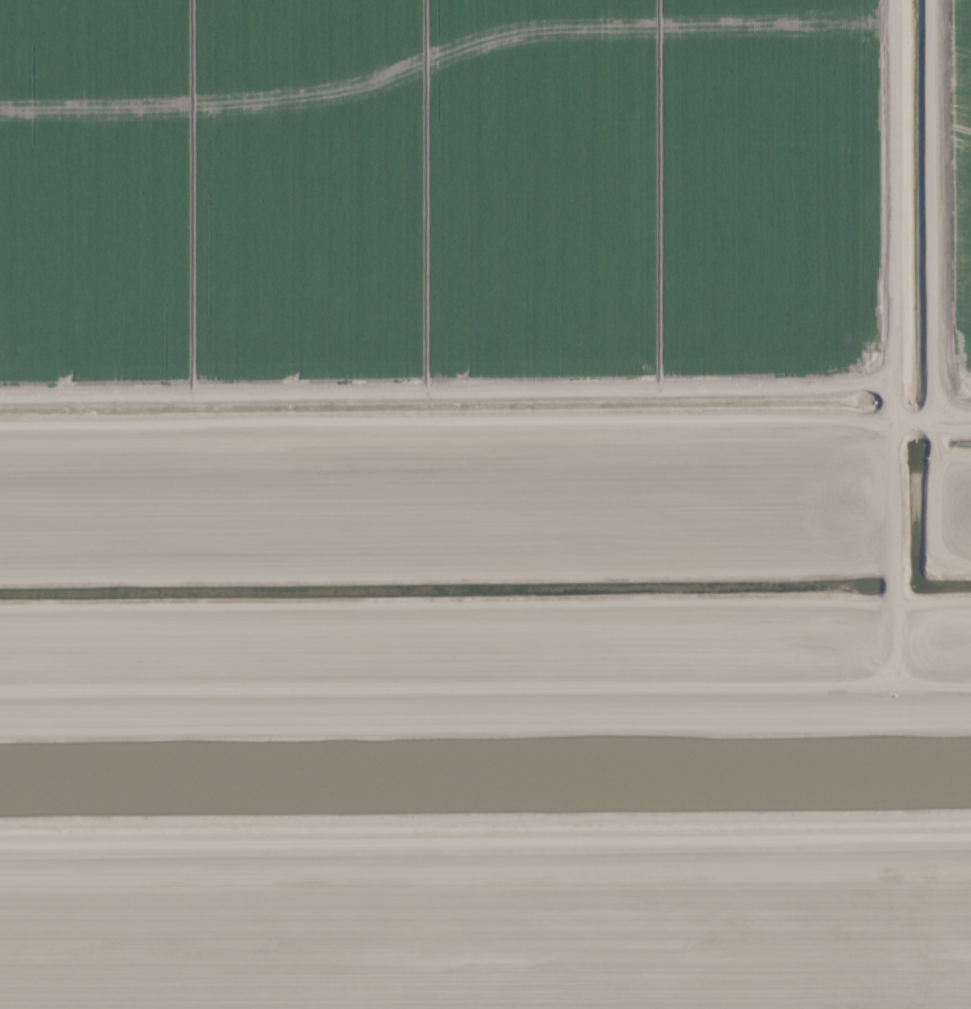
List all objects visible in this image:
crop: (482, 289)
road: (897, 342)
road: (485, 688)
river: (485, 768)
road: (485, 825)

